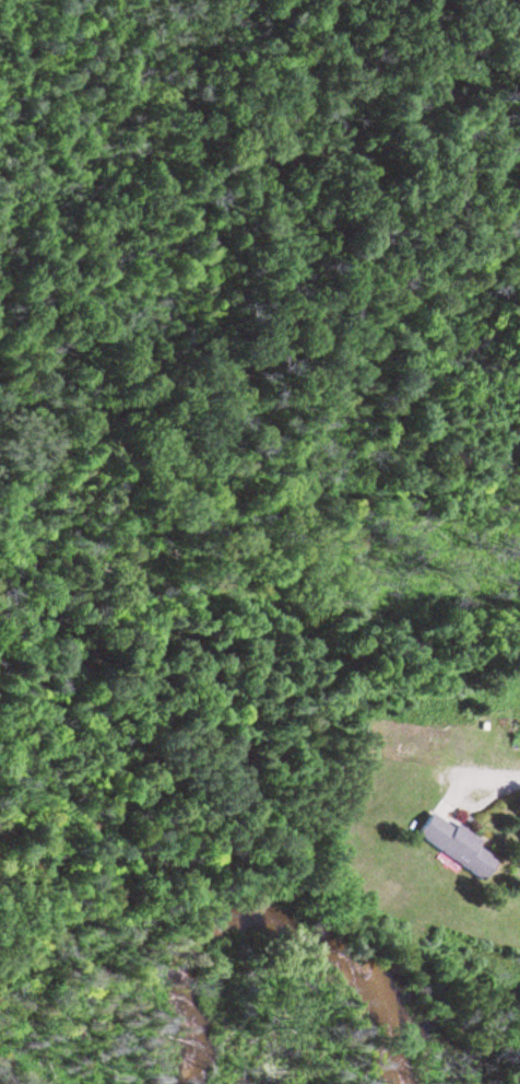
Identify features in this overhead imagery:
building: (453, 848)
river: (282, 925)

